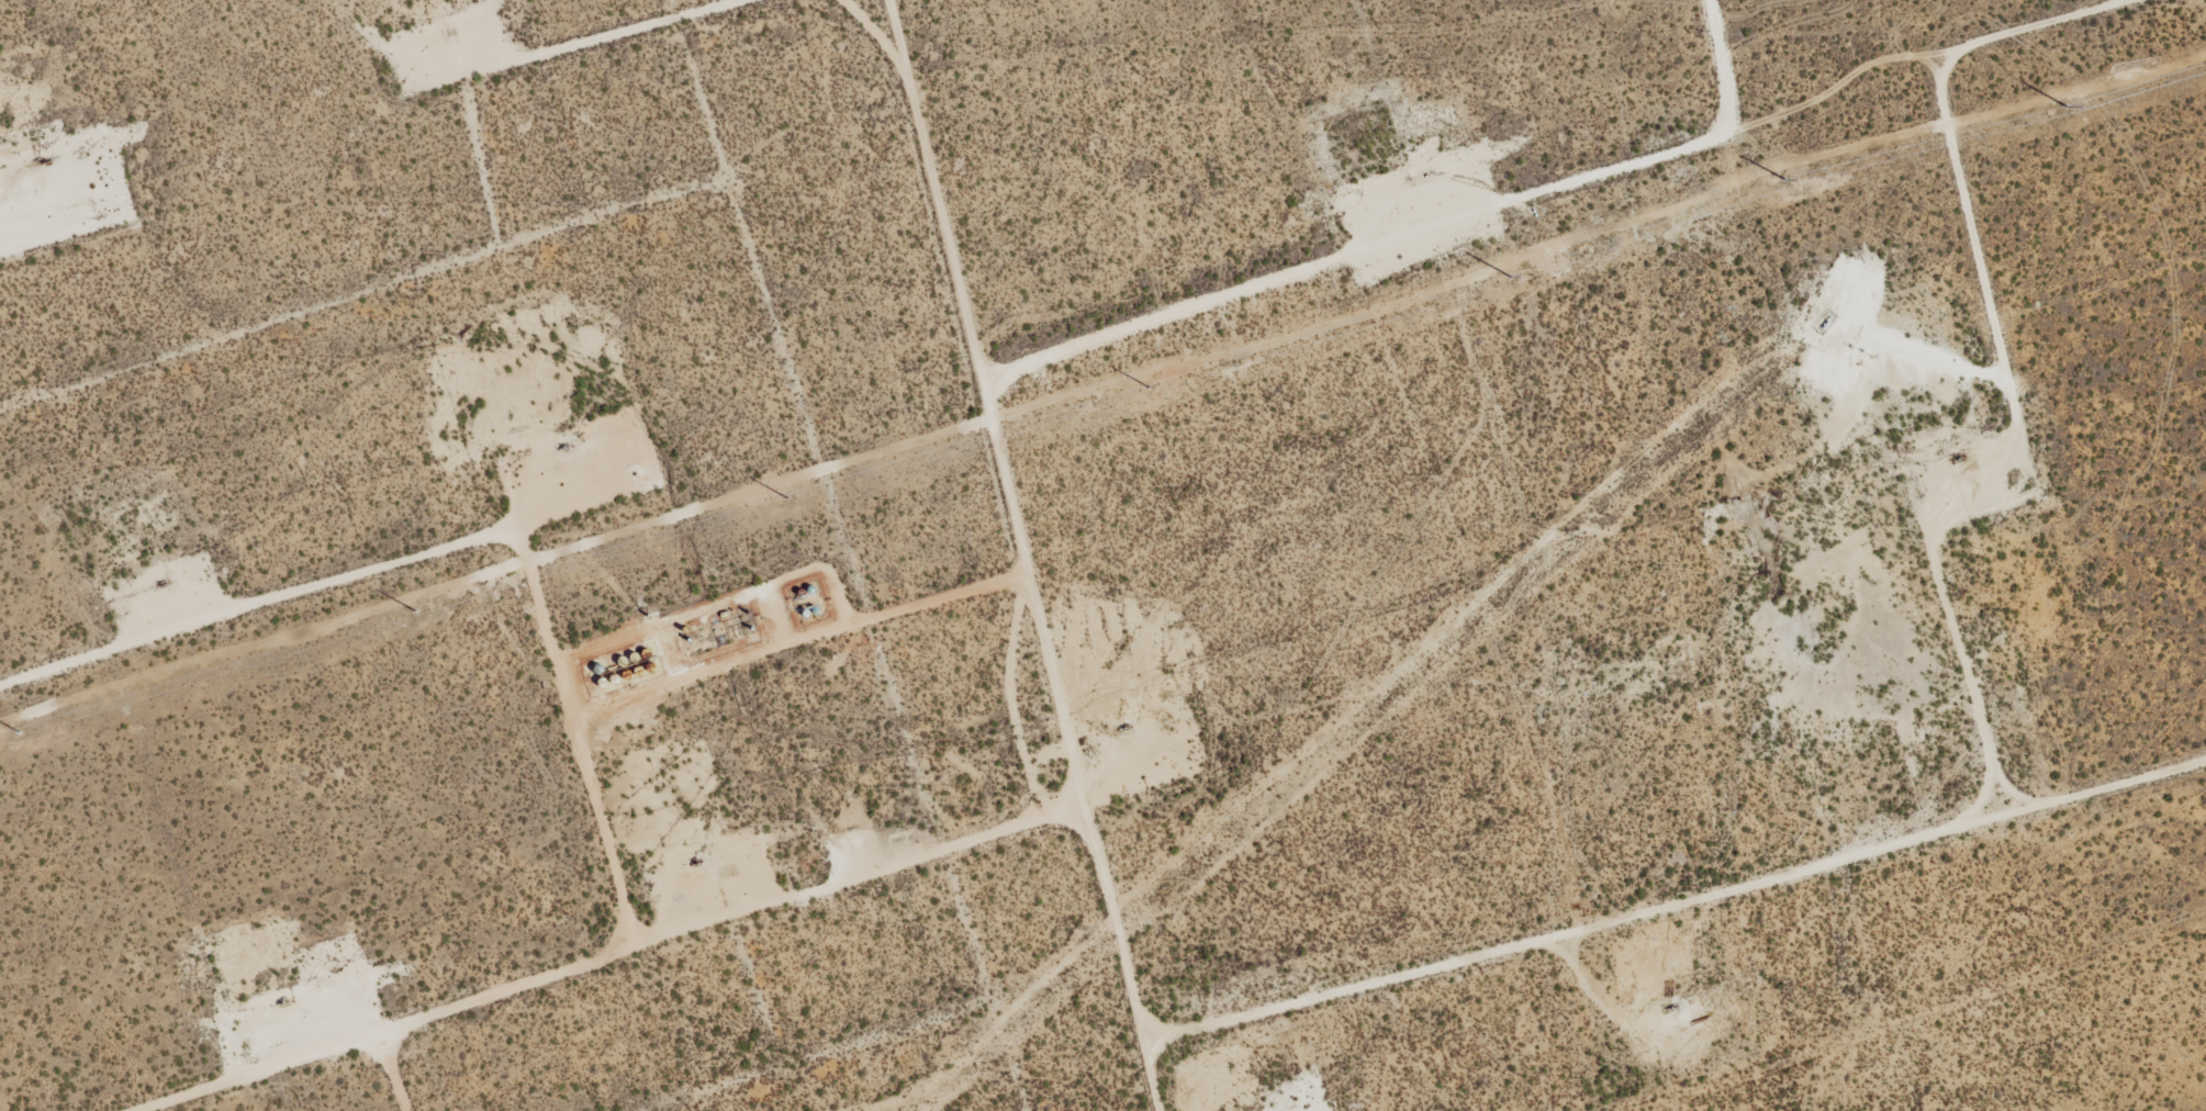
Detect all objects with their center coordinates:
road: (952, 26)
road: (1454, 423)
road: (972, 551)
road: (1309, 709)
road: (1482, 715)
road: (1560, 863)
road: (1474, 979)

